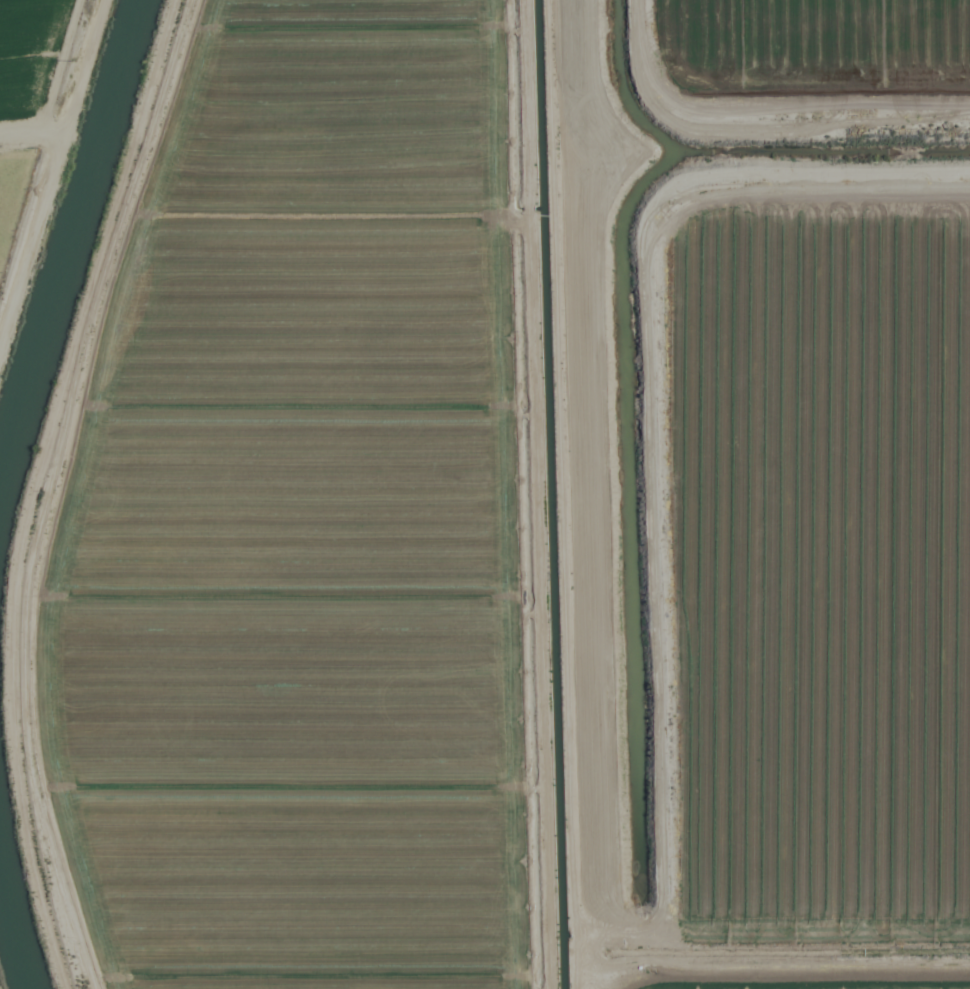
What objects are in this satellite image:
road: (36, 490)

